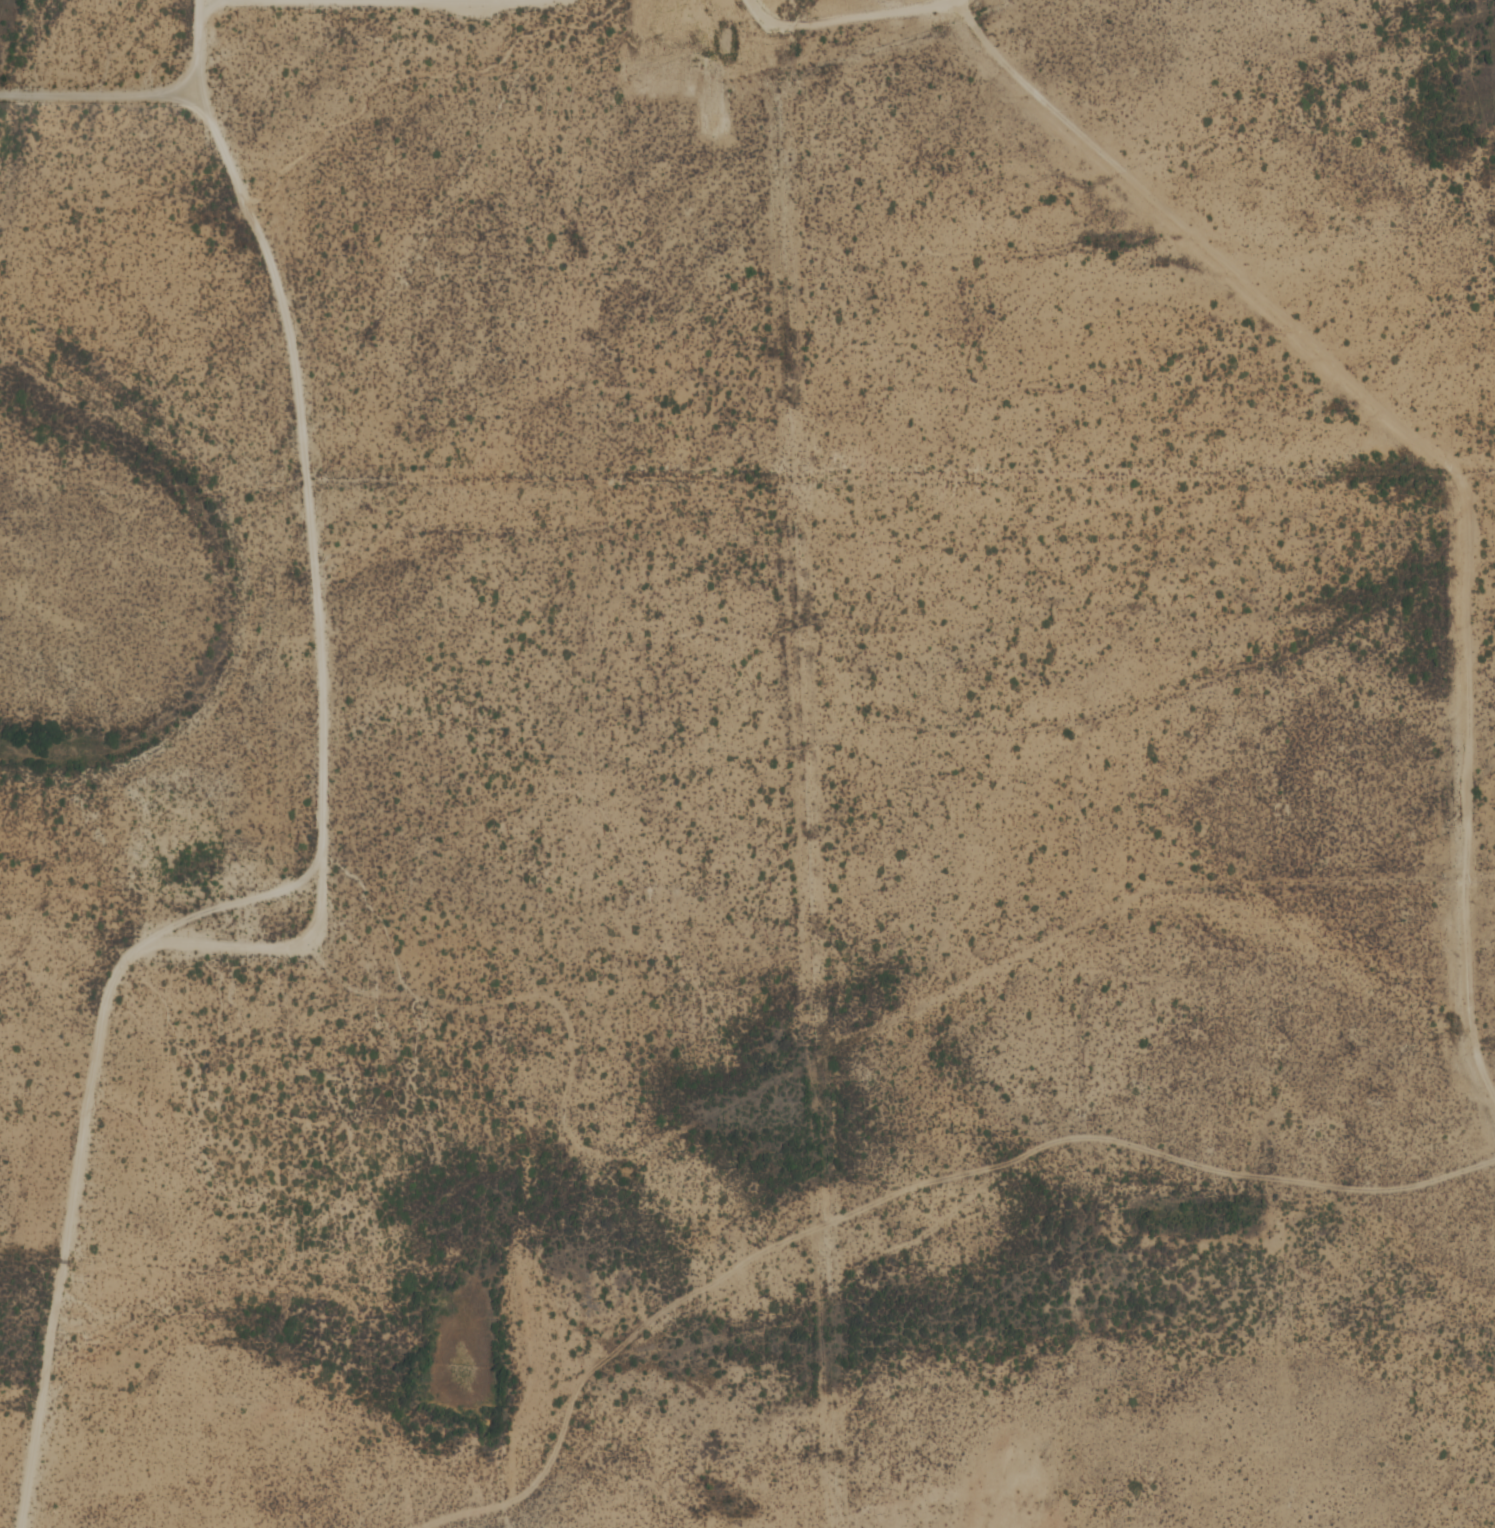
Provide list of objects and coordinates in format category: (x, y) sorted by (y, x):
road: (306, 436)
road: (84, 1137)
road: (1300, 1182)

